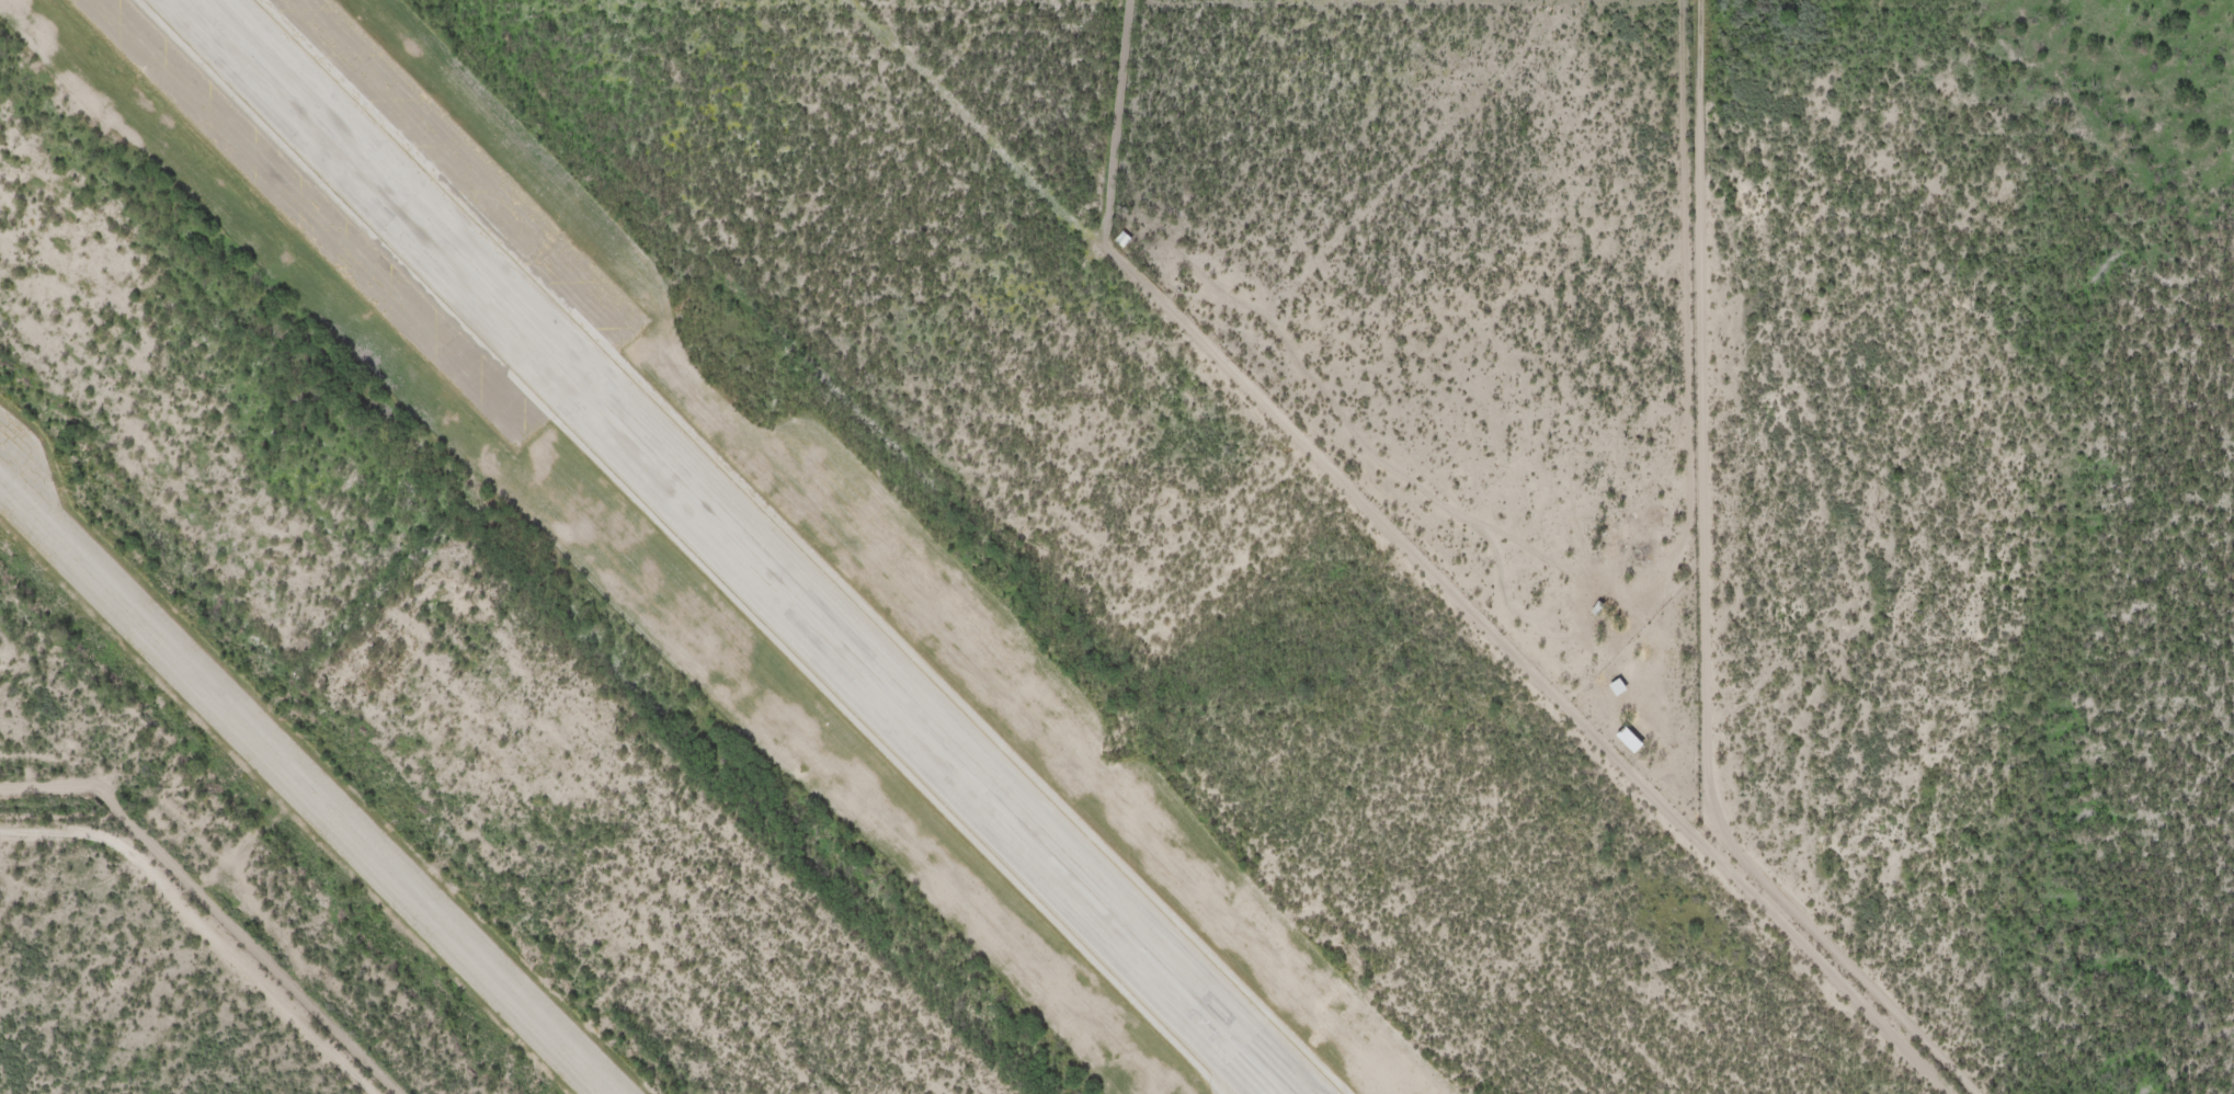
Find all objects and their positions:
road: (2078, 158)
airport runway: (739, 547)
airport: (785, 585)
building: (1619, 687)
building: (1630, 740)
airport taxiway: (303, 787)
road: (147, 1013)

